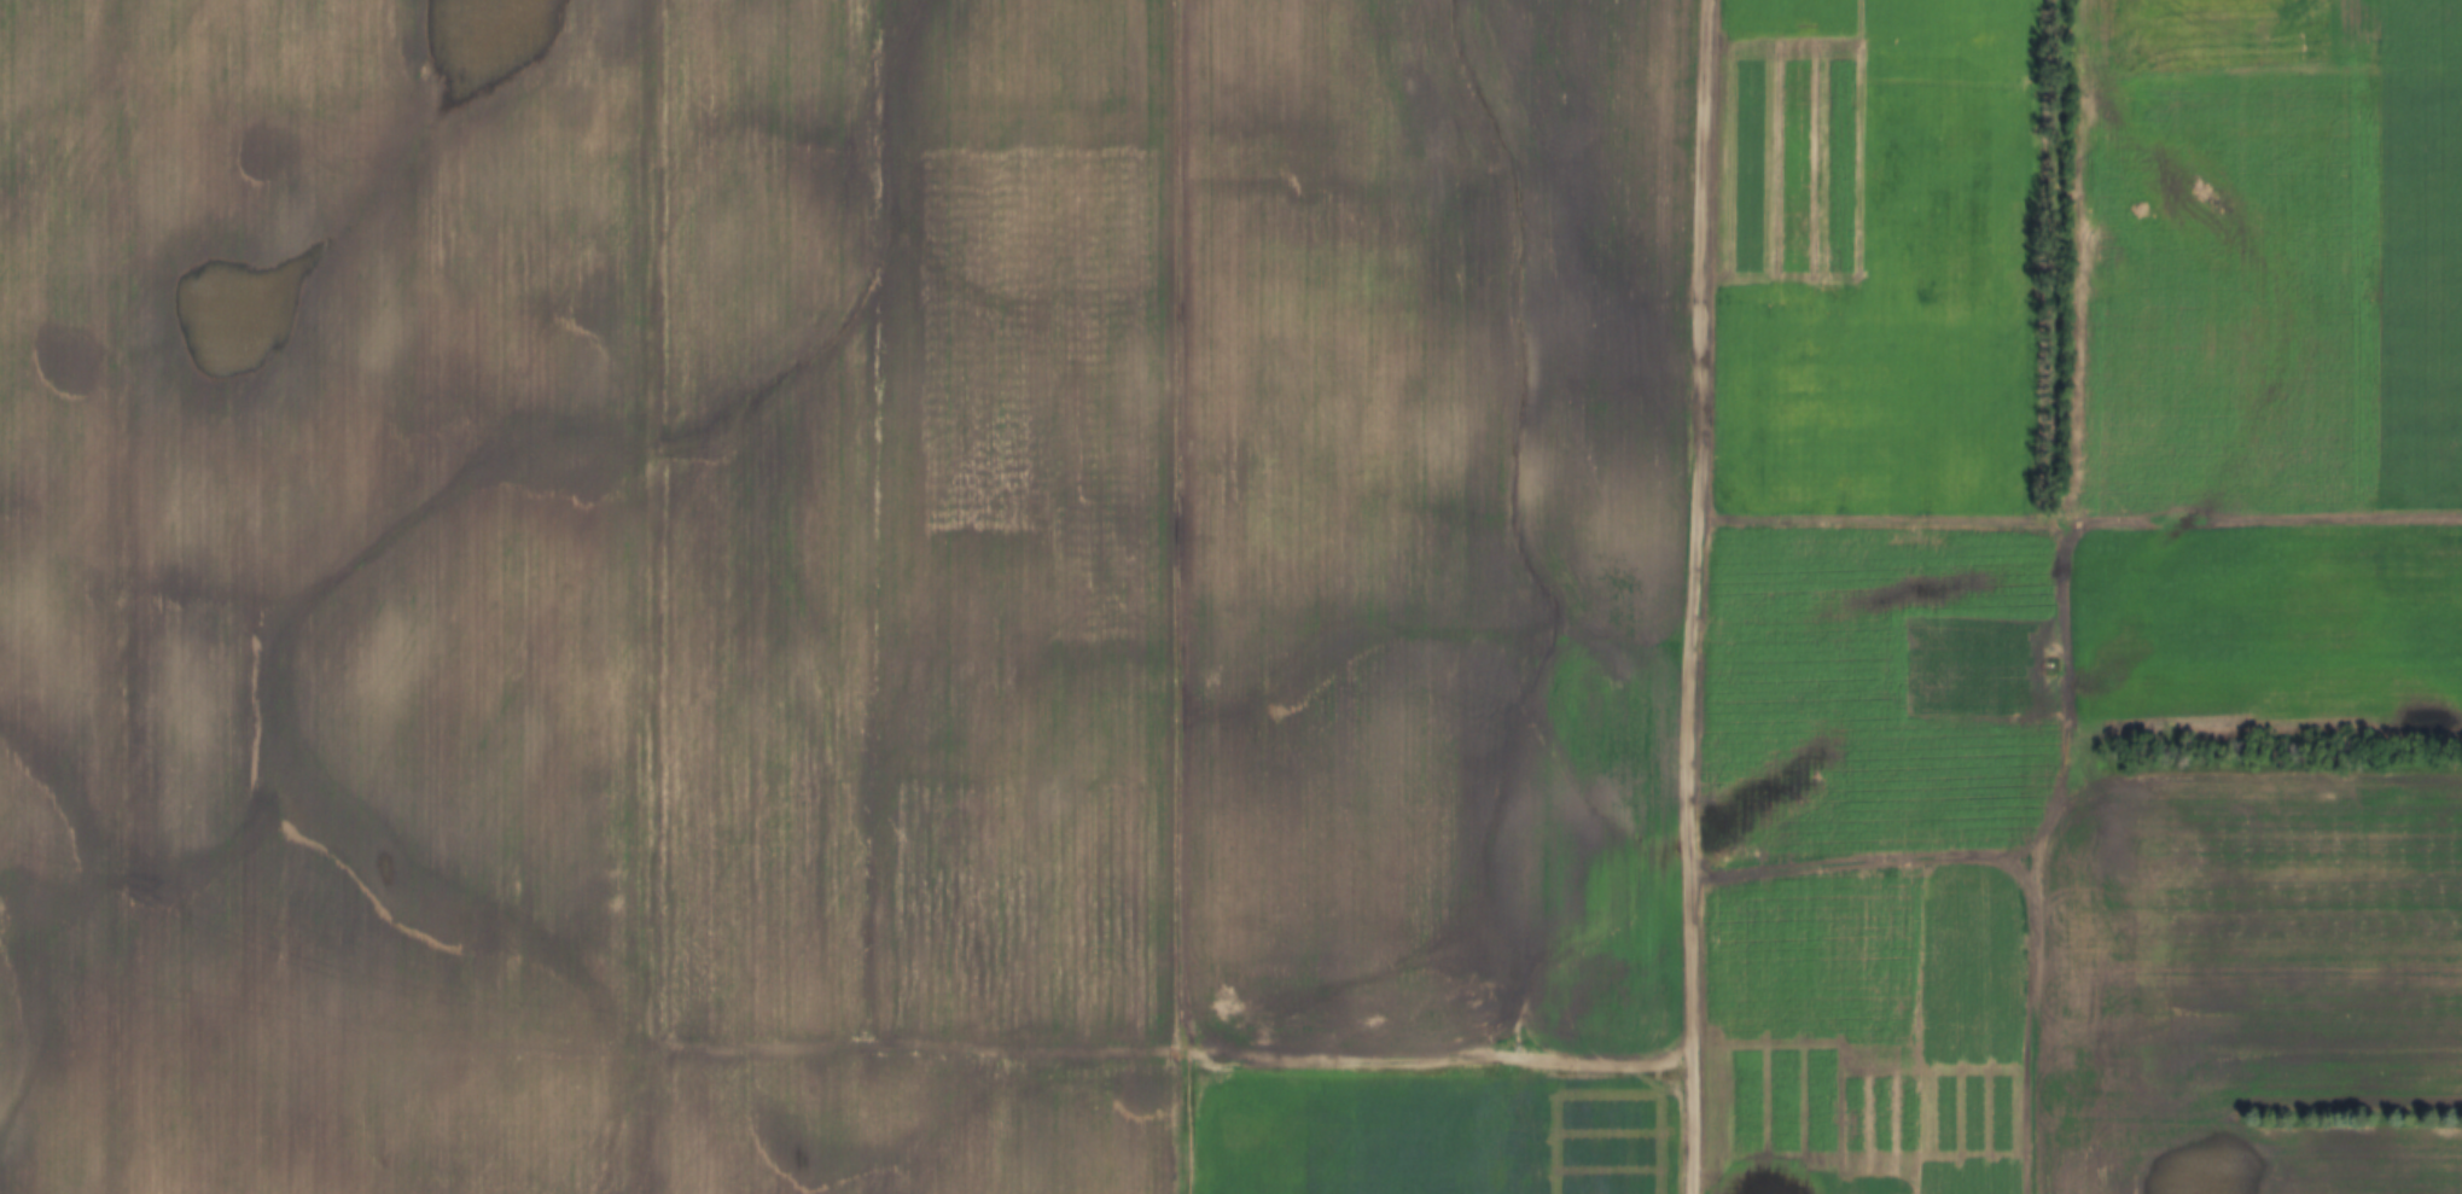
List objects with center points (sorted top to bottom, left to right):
road: (127, 596)
road: (1699, 596)

